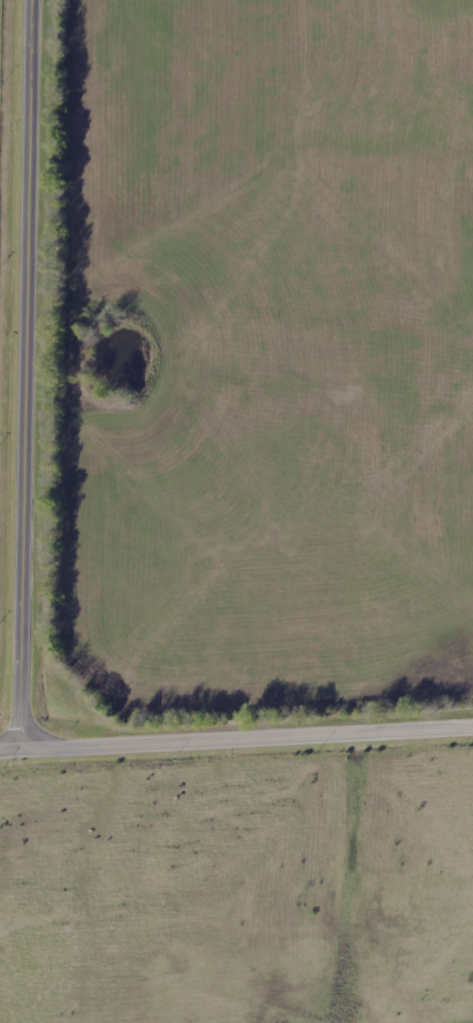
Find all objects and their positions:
road: (26, 376)
road: (236, 741)

